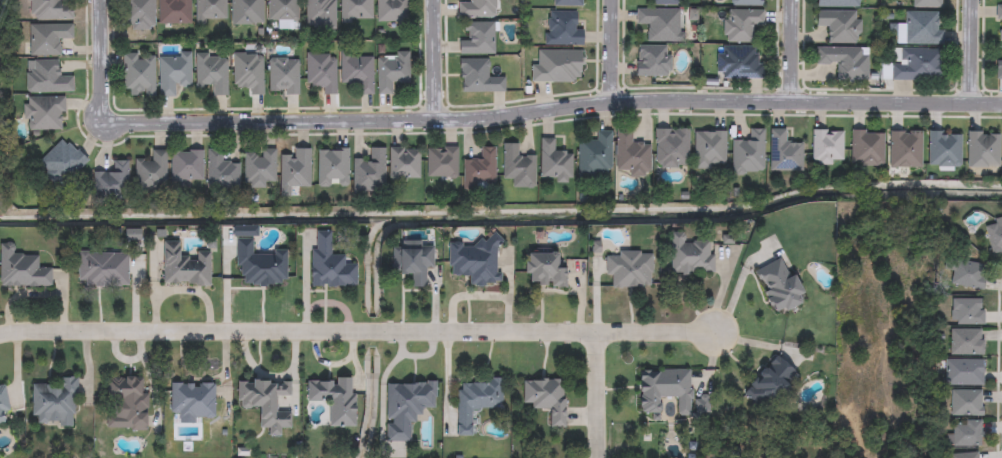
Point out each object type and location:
building: (999, 0)
building: (663, 2)
building: (566, 3)
building: (747, 3)
building: (839, 3)
building: (926, 4)
building: (478, 8)
building: (49, 10)
building: (210, 11)
building: (282, 11)
building: (355, 11)
building: (174, 12)
building: (246, 12)
building: (392, 12)
building: (137, 14)
building: (319, 14)
building: (999, 23)
building: (661, 24)
building: (742, 25)
building: (839, 25)
building: (563, 29)
building: (920, 29)
building: (47, 37)
building: (477, 38)
road: (612, 53)
road: (794, 53)
road: (975, 56)
road: (442, 60)
building: (652, 61)
road: (106, 62)
building: (845, 62)
building: (738, 64)
building: (916, 64)
building: (999, 66)
building: (557, 67)
building: (391, 70)
building: (357, 71)
building: (321, 72)
building: (212, 73)
building: (248, 73)
building: (139, 74)
building: (174, 74)
building: (283, 76)
building: (477, 77)
building: (47, 78)
road: (557, 111)
building: (44, 113)
building: (827, 147)
building: (867, 147)
building: (671, 148)
building: (905, 149)
building: (944, 149)
building: (982, 149)
building: (709, 150)
building: (749, 153)
building: (784, 153)
building: (630, 154)
building: (594, 156)
building: (62, 162)
building: (441, 162)
building: (553, 162)
building: (403, 163)
building: (186, 167)
building: (332, 167)
building: (517, 167)
building: (260, 168)
building: (478, 169)
building: (294, 170)
building: (151, 171)
building: (220, 172)
building: (368, 172)
building: (111, 182)
building: (994, 235)
building: (690, 253)
building: (473, 259)
building: (411, 260)
building: (330, 262)
building: (259, 263)
building: (184, 264)
building: (102, 266)
building: (21, 267)
building: (629, 267)
building: (543, 268)
building: (968, 274)
building: (777, 284)
building: (966, 312)
road: (358, 334)
building: (965, 342)
building: (964, 373)
building: (768, 380)
building: (664, 387)
building: (545, 396)
road: (597, 396)
building: (333, 397)
building: (191, 398)
building: (475, 398)
building: (265, 399)
building: (54, 401)
building: (126, 401)
building: (2, 402)
building: (966, 403)
building: (405, 405)
building: (967, 433)
building: (966, 455)

